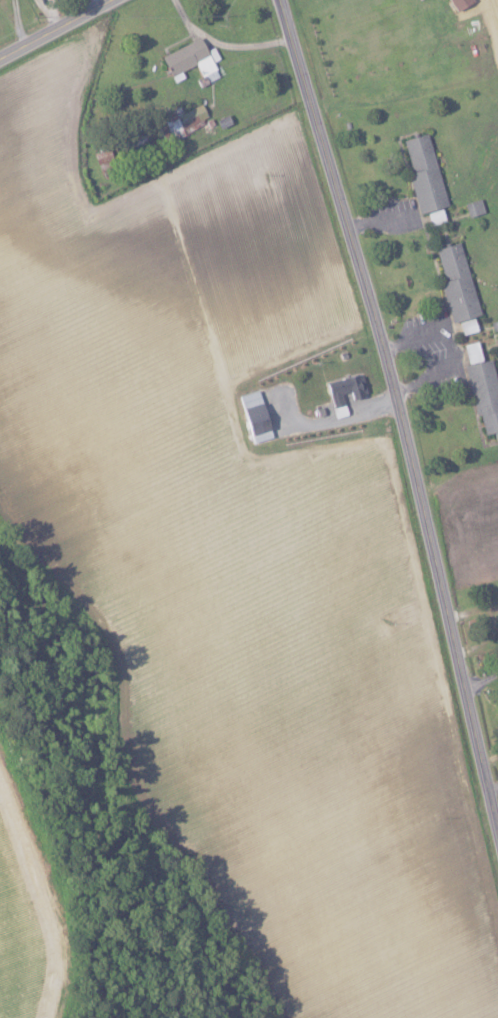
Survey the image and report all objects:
building: (458, 3)
road: (16, 24)
road: (58, 30)
building: (185, 57)
building: (181, 122)
building: (101, 157)
building: (423, 178)
building: (472, 207)
building: (454, 283)
building: (465, 326)
building: (470, 352)
building: (344, 389)
building: (482, 394)
road: (403, 406)
building: (251, 413)
road: (482, 680)

